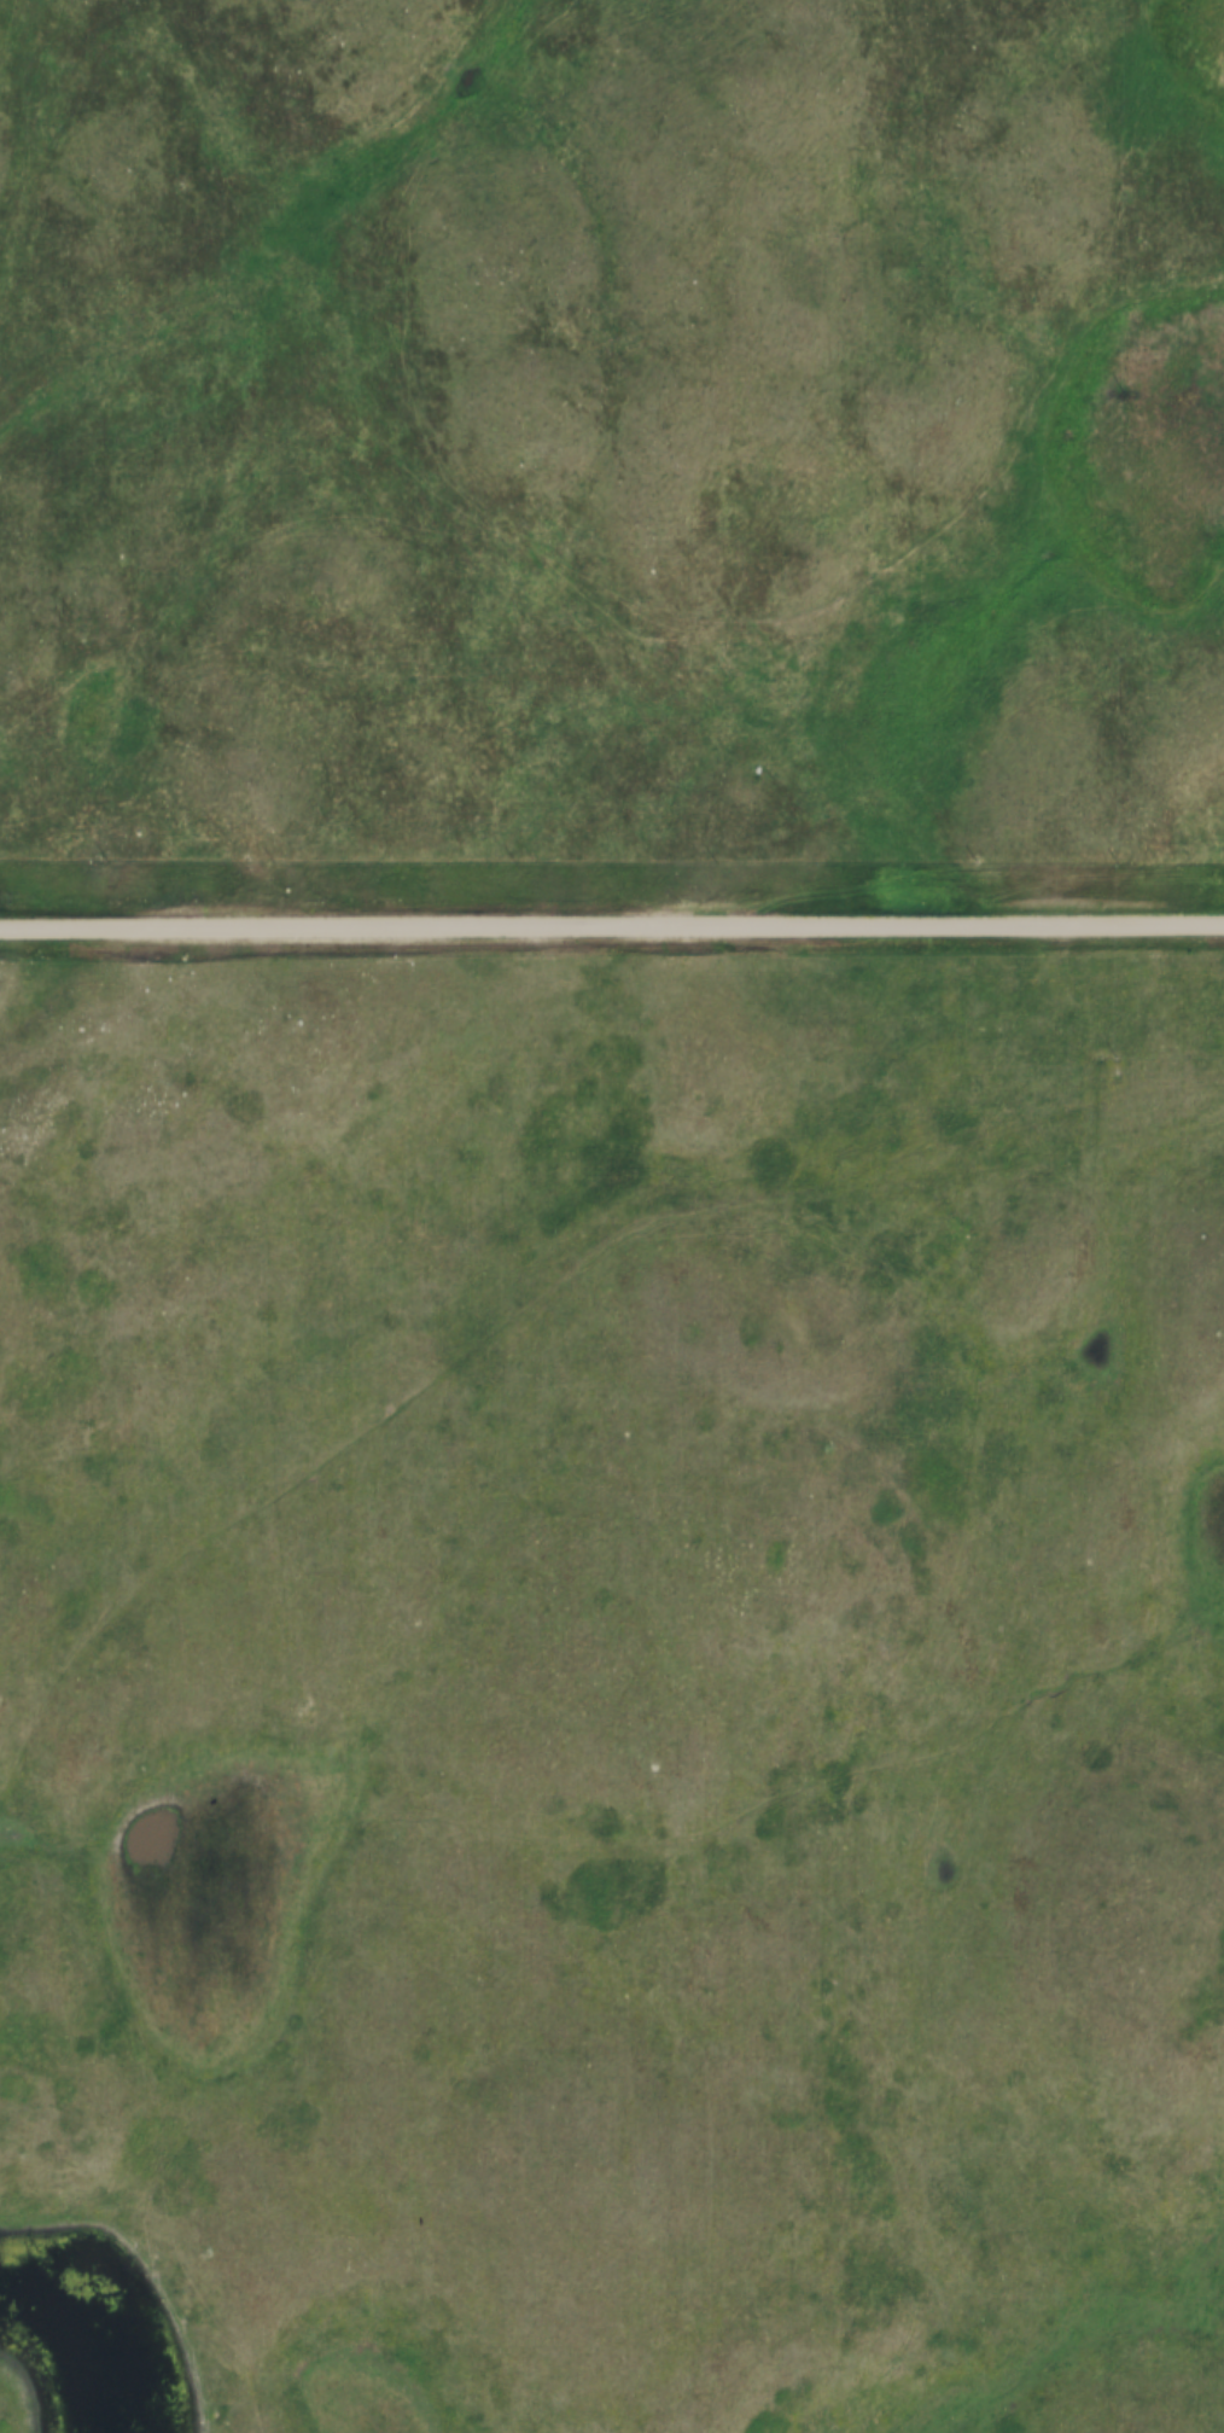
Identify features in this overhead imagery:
road: (612, 929)

